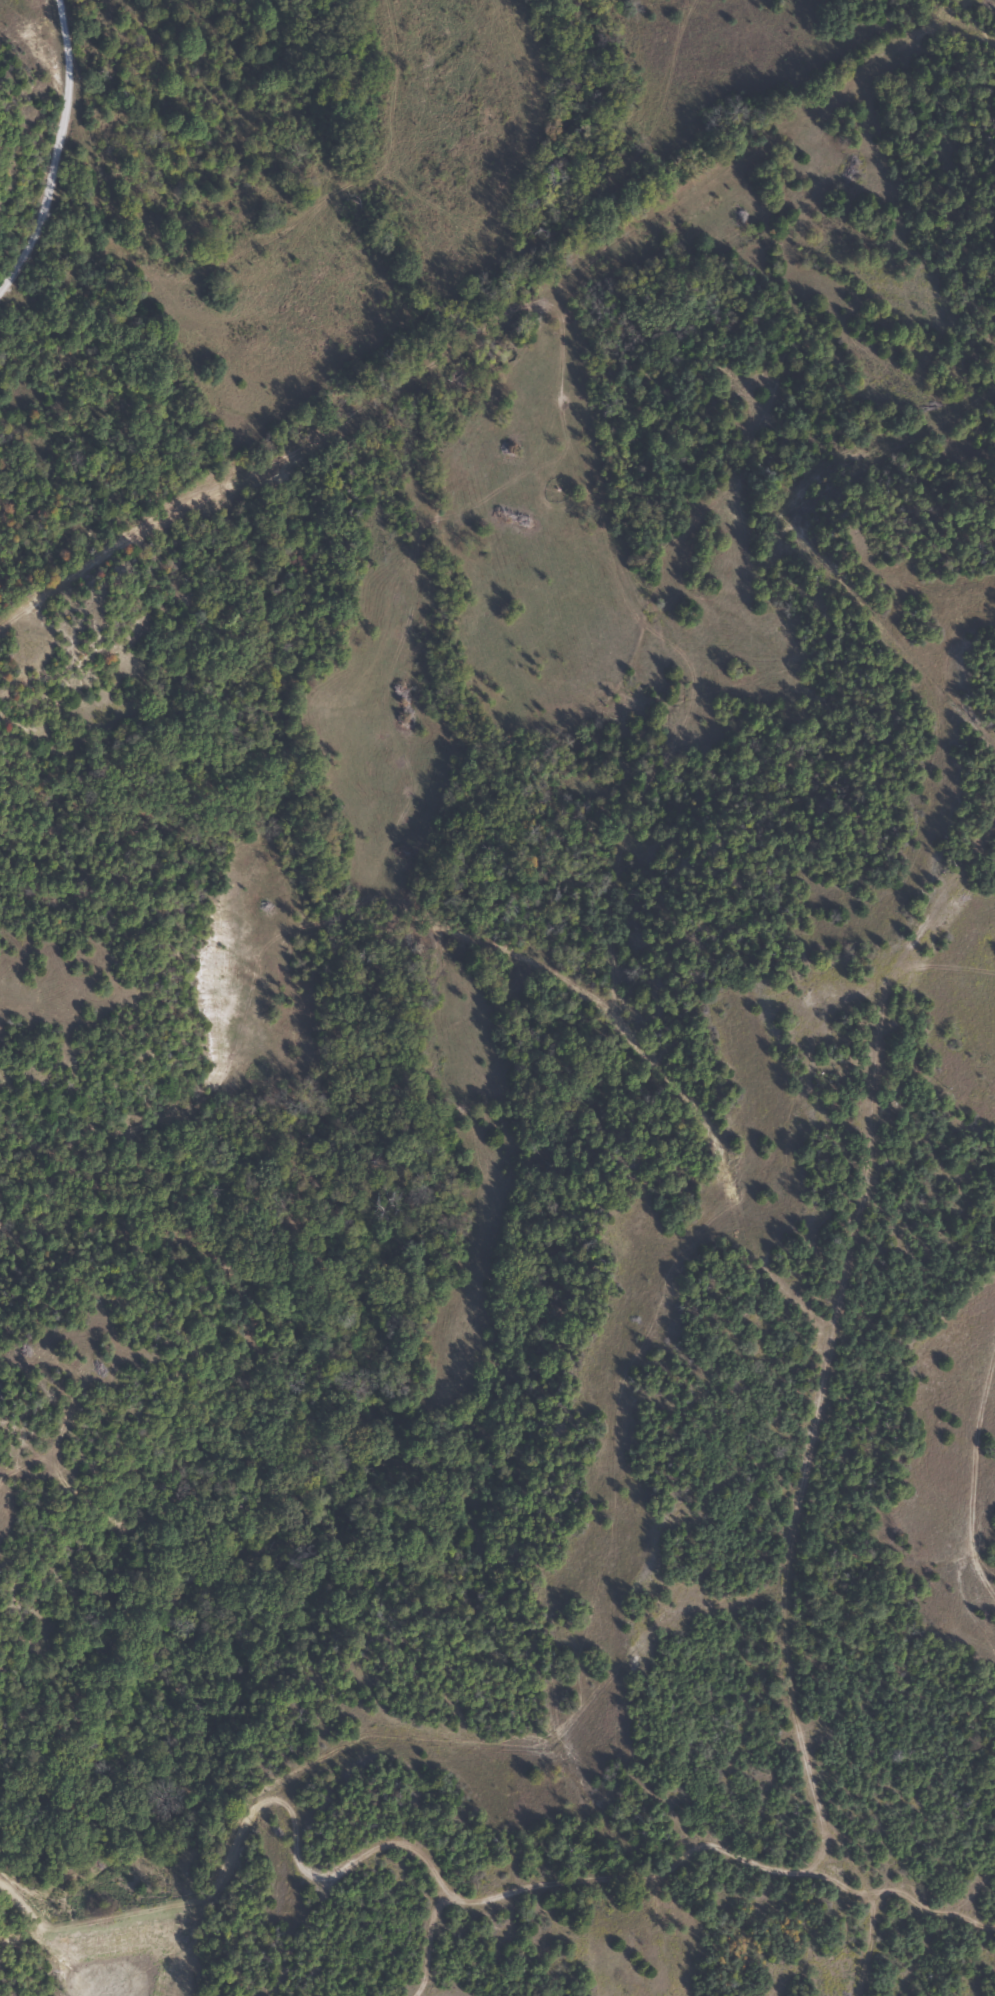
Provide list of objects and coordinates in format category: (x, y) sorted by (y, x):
road: (993, 1508)
road: (913, 1922)

